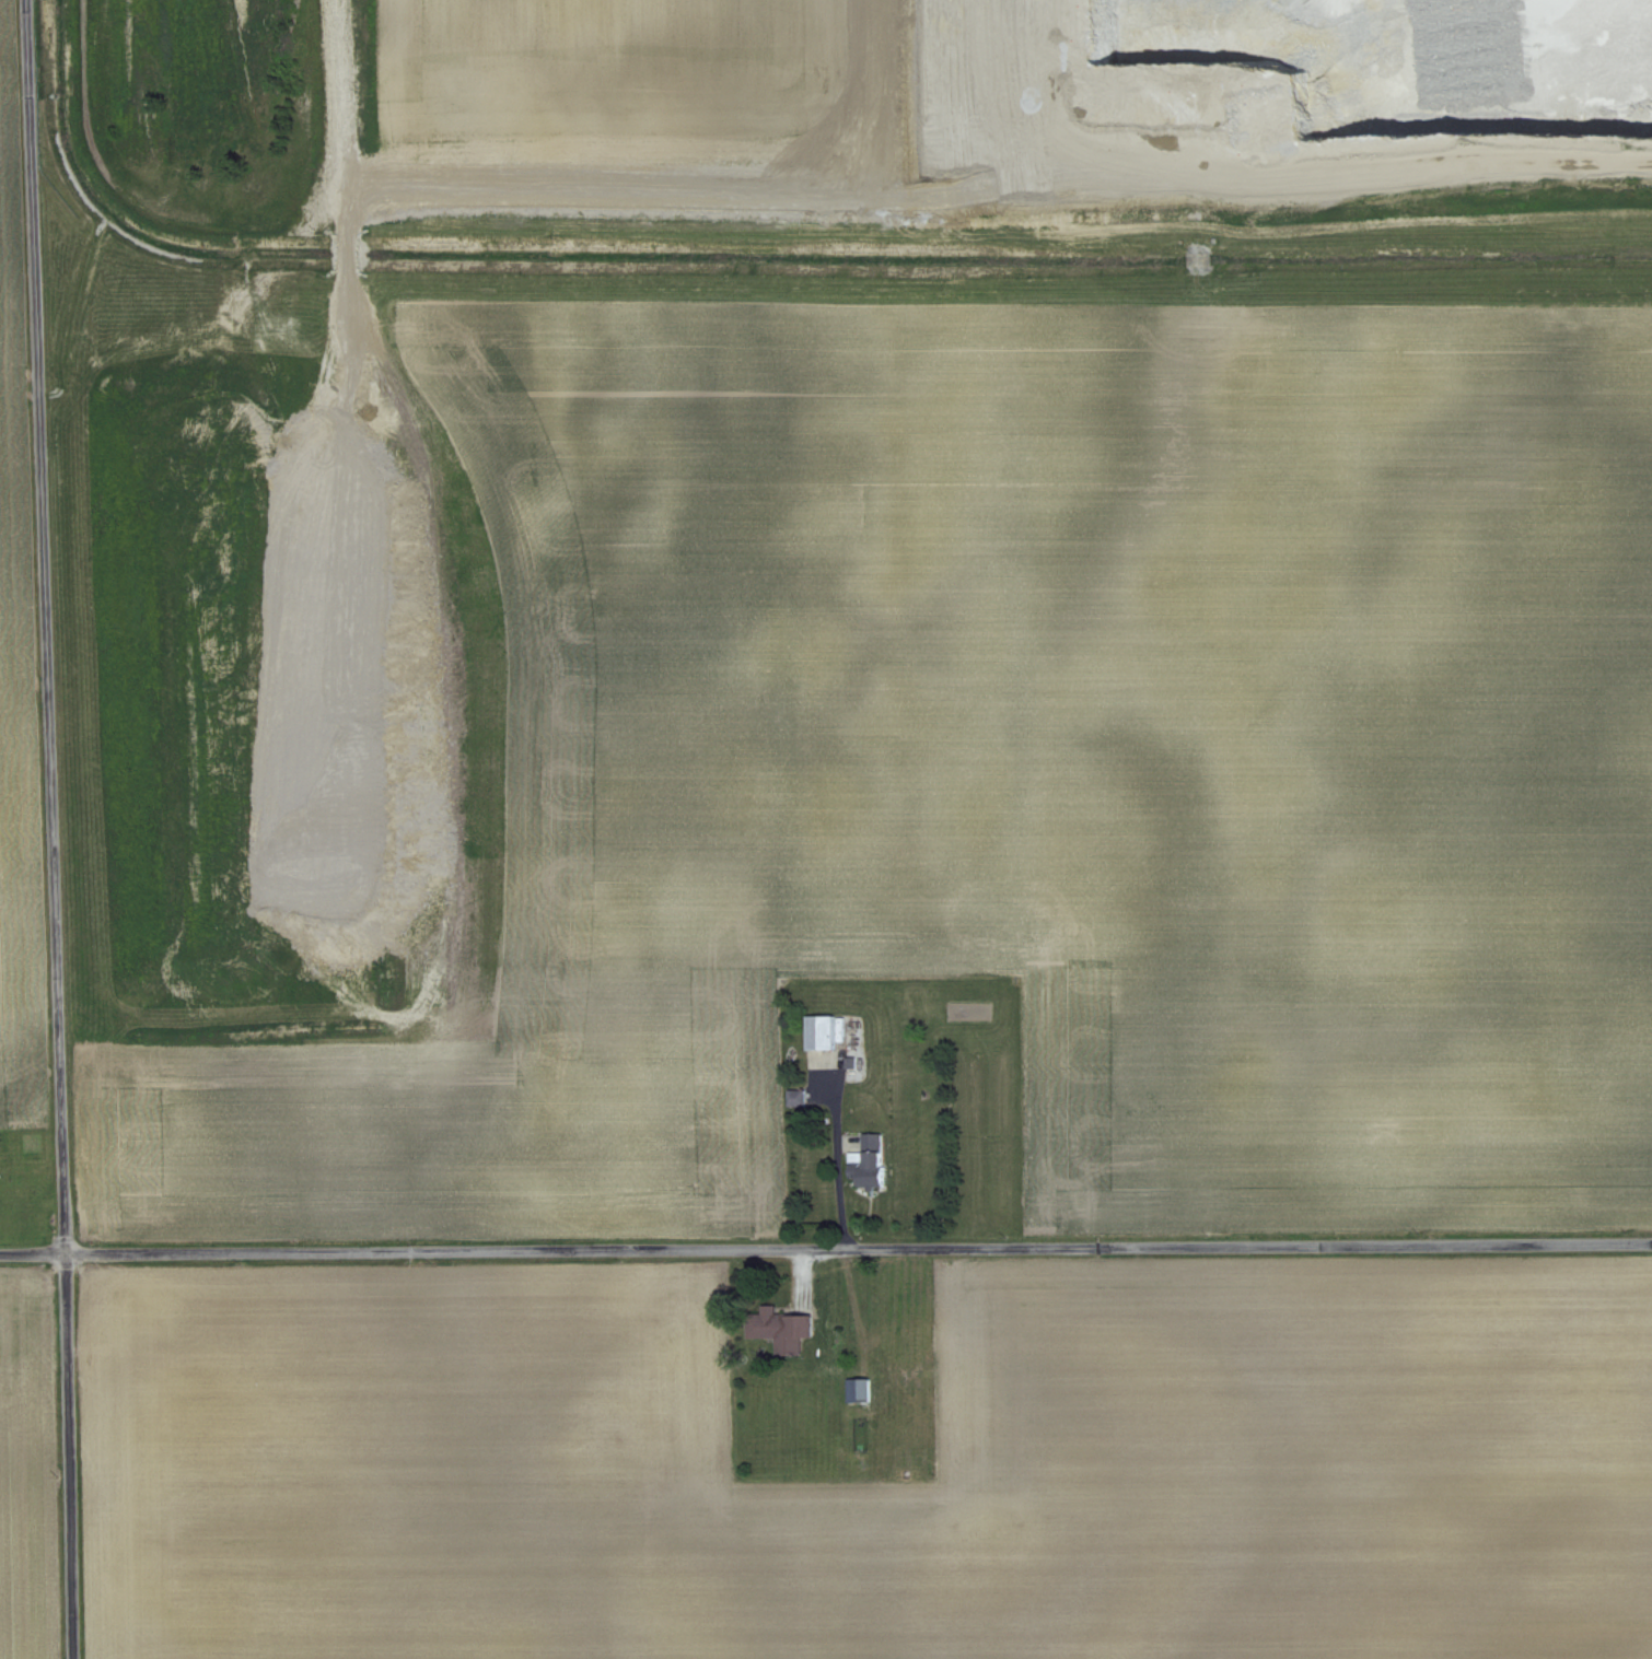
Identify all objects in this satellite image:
quarry: (1341, 142)
building: (1198, 259)
quarry: (231, 779)
road: (53, 829)
building: (817, 1032)
building: (795, 1097)
building: (869, 1163)
road: (825, 1251)
building: (780, 1330)
building: (900, 1340)
building: (857, 1390)

